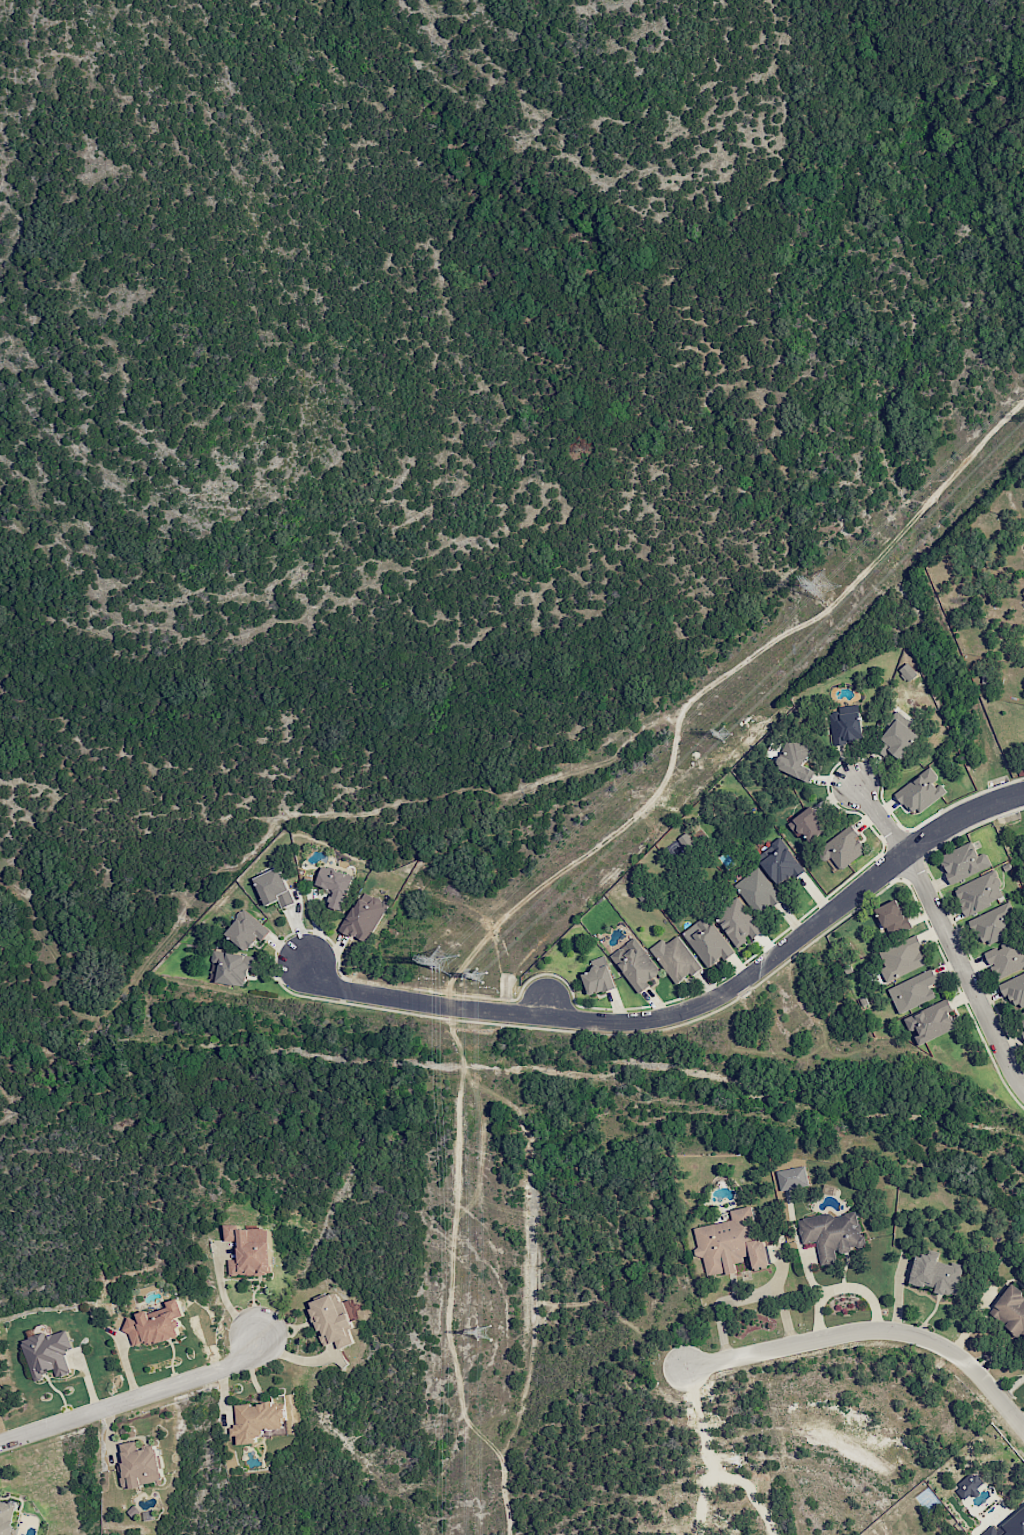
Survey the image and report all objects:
power tower: (833, 582)
building: (907, 672)
road: (717, 676)
building: (845, 727)
power tower: (723, 732)
building: (899, 738)
building: (795, 759)
building: (921, 791)
building: (808, 824)
building: (685, 841)
building: (843, 848)
building: (779, 862)
building: (963, 862)
building: (335, 886)
building: (274, 888)
building: (758, 891)
building: (979, 893)
building: (891, 914)
building: (363, 916)
building: (737, 922)
building: (993, 924)
building: (246, 930)
road: (946, 935)
building: (707, 941)
power tower: (443, 955)
building: (901, 957)
building: (675, 958)
building: (1006, 959)
building: (635, 964)
building: (232, 967)
power tower: (480, 977)
building: (598, 979)
building: (1014, 990)
building: (913, 991)
road: (545, 1005)
road: (691, 1009)
building: (930, 1021)
building: (792, 1178)
building: (832, 1233)
building: (730, 1243)
building: (250, 1250)
building: (936, 1273)
road: (450, 1289)
road: (816, 1292)
road: (861, 1292)
building: (1010, 1310)
building: (333, 1320)
building: (155, 1324)
road: (871, 1329)
power tower: (483, 1334)
building: (47, 1351)
road: (300, 1355)
road: (583, 1358)
road: (133, 1396)
building: (257, 1421)
building: (140, 1464)
building: (969, 1485)
building: (7, 1517)
building: (1009, 1526)

